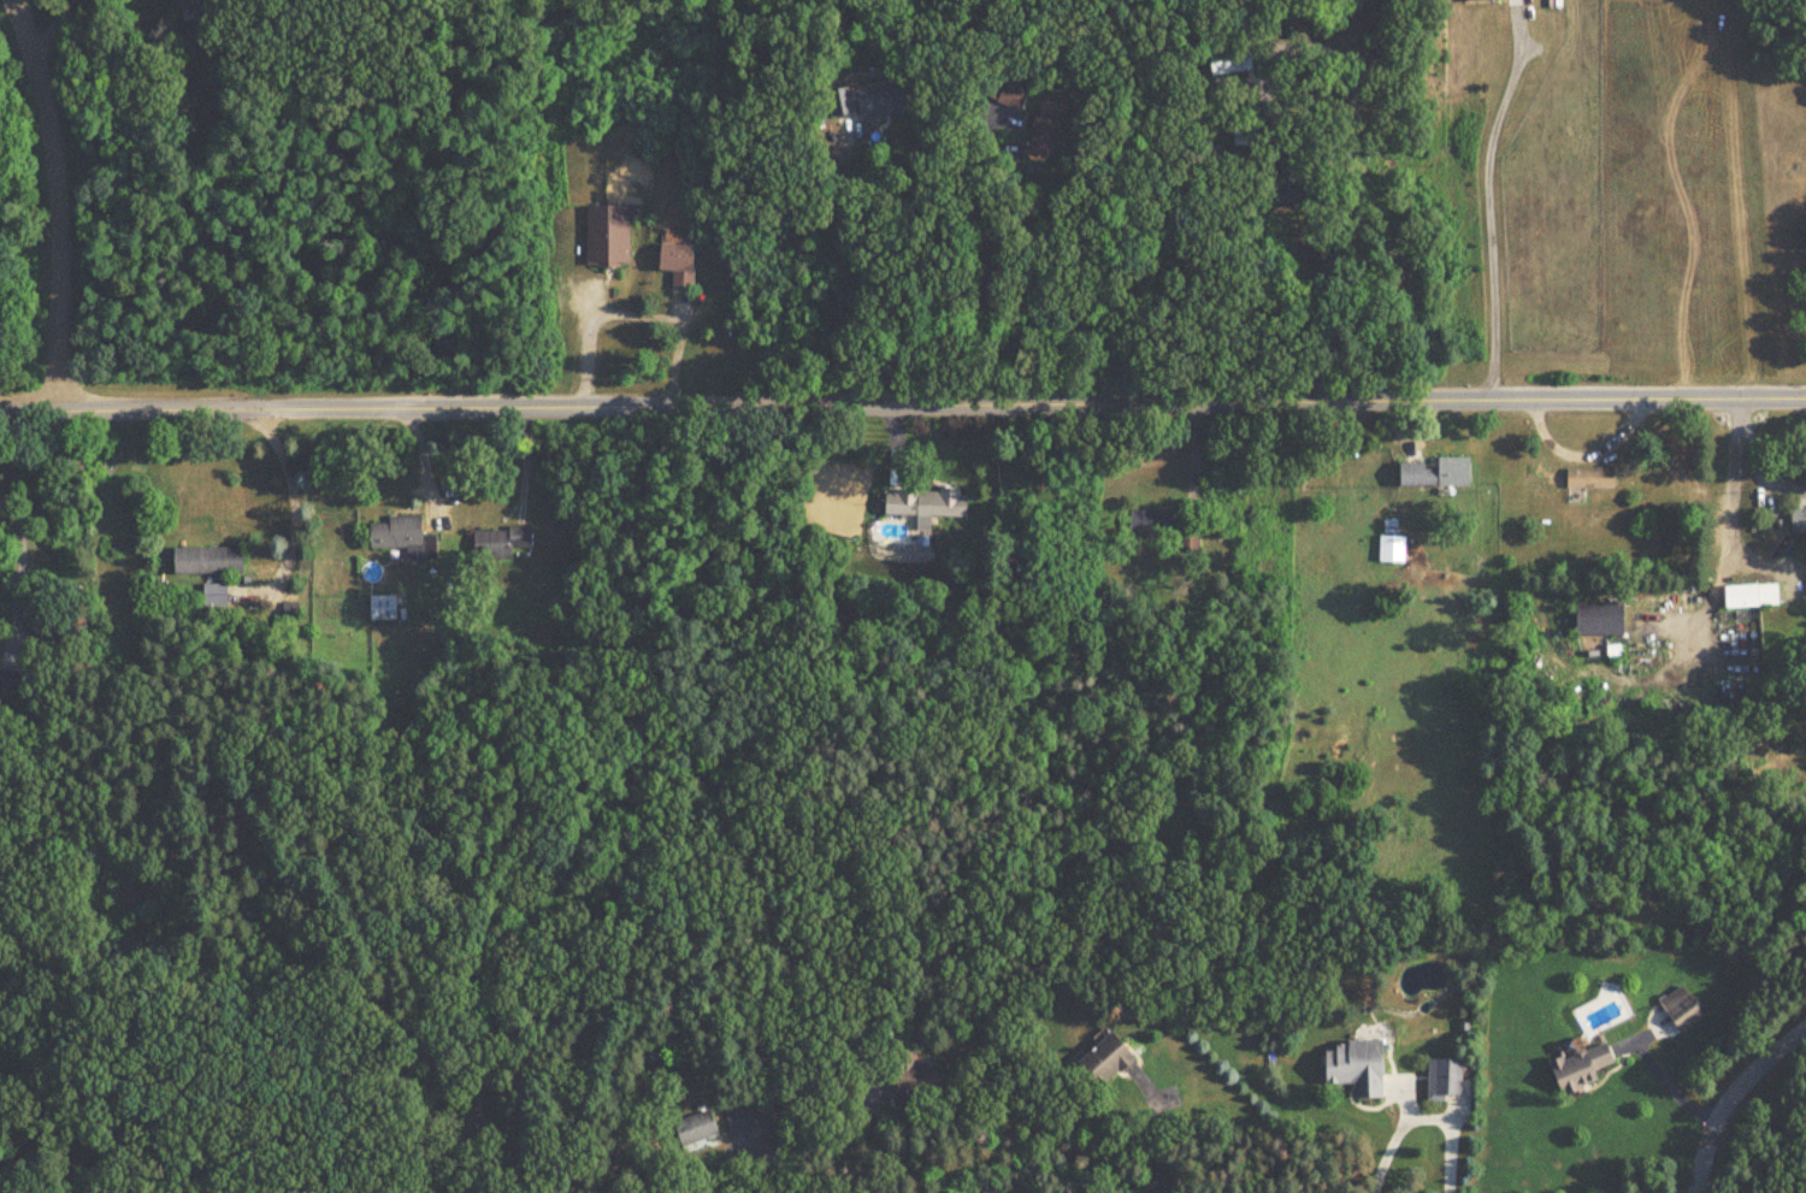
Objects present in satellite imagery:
building: (1479, 0)
road: (51, 24)
building: (1228, 59)
building: (1007, 94)
building: (868, 101)
building: (1038, 135)
road: (1346, 173)
building: (1283, 182)
road: (58, 201)
road: (1488, 203)
building: (607, 236)
road: (984, 264)
building: (675, 265)
road: (836, 277)
road: (627, 313)
road: (902, 406)
building: (1434, 473)
building: (1583, 477)
road: (296, 488)
road: (1783, 489)
building: (923, 504)
building: (140, 509)
road: (1776, 512)
building: (1796, 521)
building: (1147, 522)
road: (1730, 522)
building: (395, 532)
building: (497, 542)
building: (1186, 543)
building: (1389, 549)
building: (205, 561)
road: (19, 567)
building: (214, 595)
building: (1749, 596)
building: (384, 609)
building: (1597, 618)
building: (7, 679)
road: (669, 784)
building: (1671, 1014)
building: (1103, 1059)
building: (1354, 1065)
building: (1577, 1068)
building: (916, 1076)
building: (1442, 1080)
road: (1666, 1081)
road: (1729, 1095)
road: (1421, 1117)
building: (738, 1118)
building: (694, 1128)
road: (1155, 1130)

